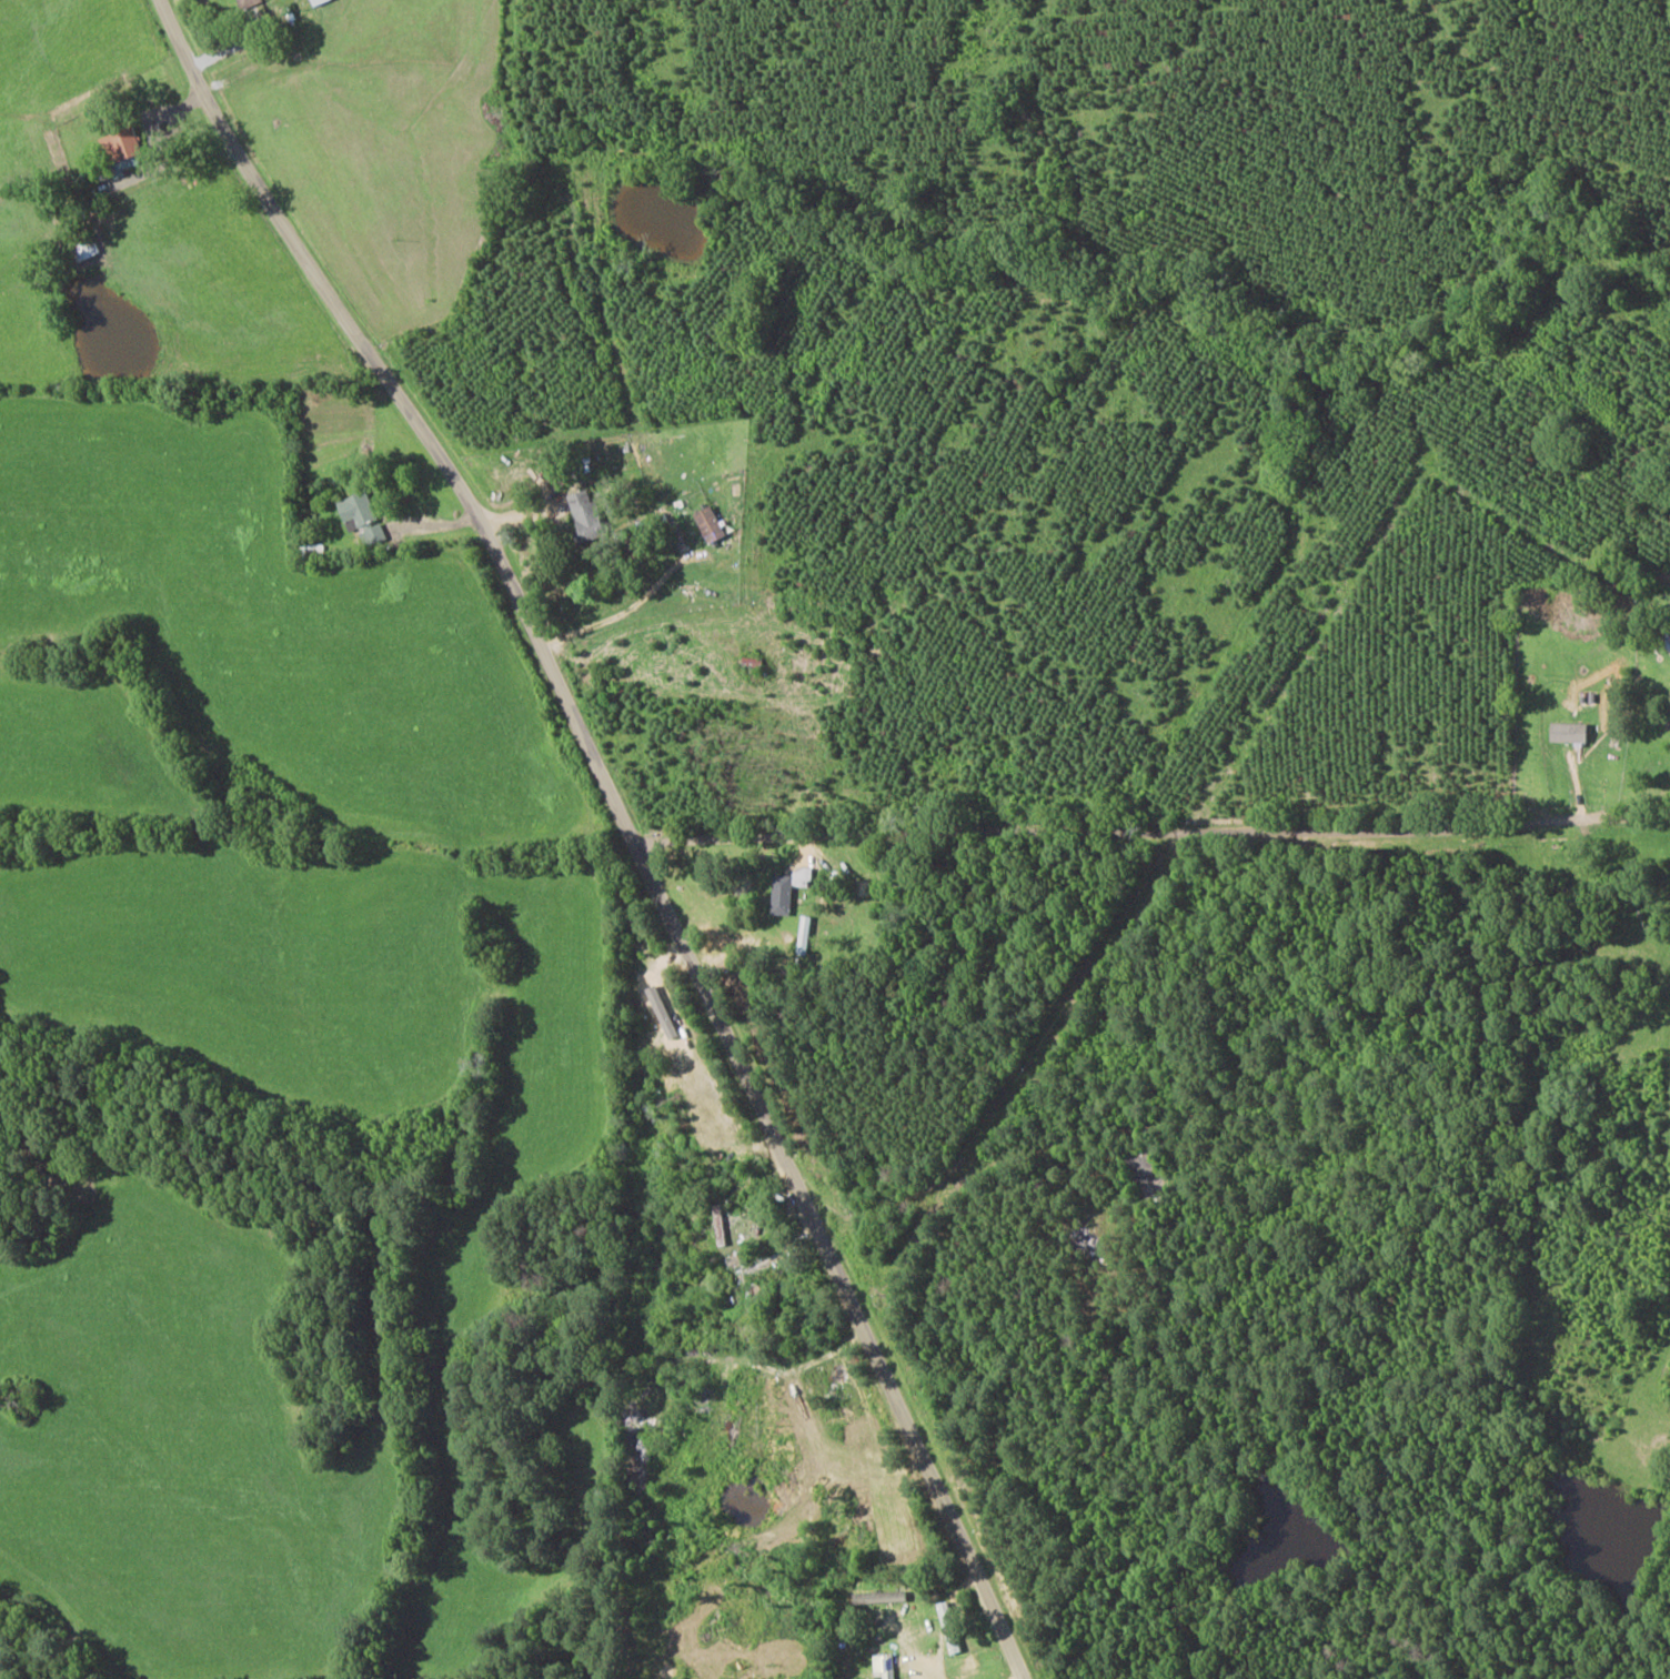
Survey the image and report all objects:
building: (245, 1)
building: (319, 1)
building: (123, 150)
building: (85, 247)
building: (588, 515)
building: (364, 517)
building: (712, 523)
building: (1667, 641)
building: (1571, 732)
road: (1154, 826)
road: (633, 827)
building: (789, 888)
building: (806, 935)
building: (883, 1598)
building: (950, 1628)
building: (887, 1666)

